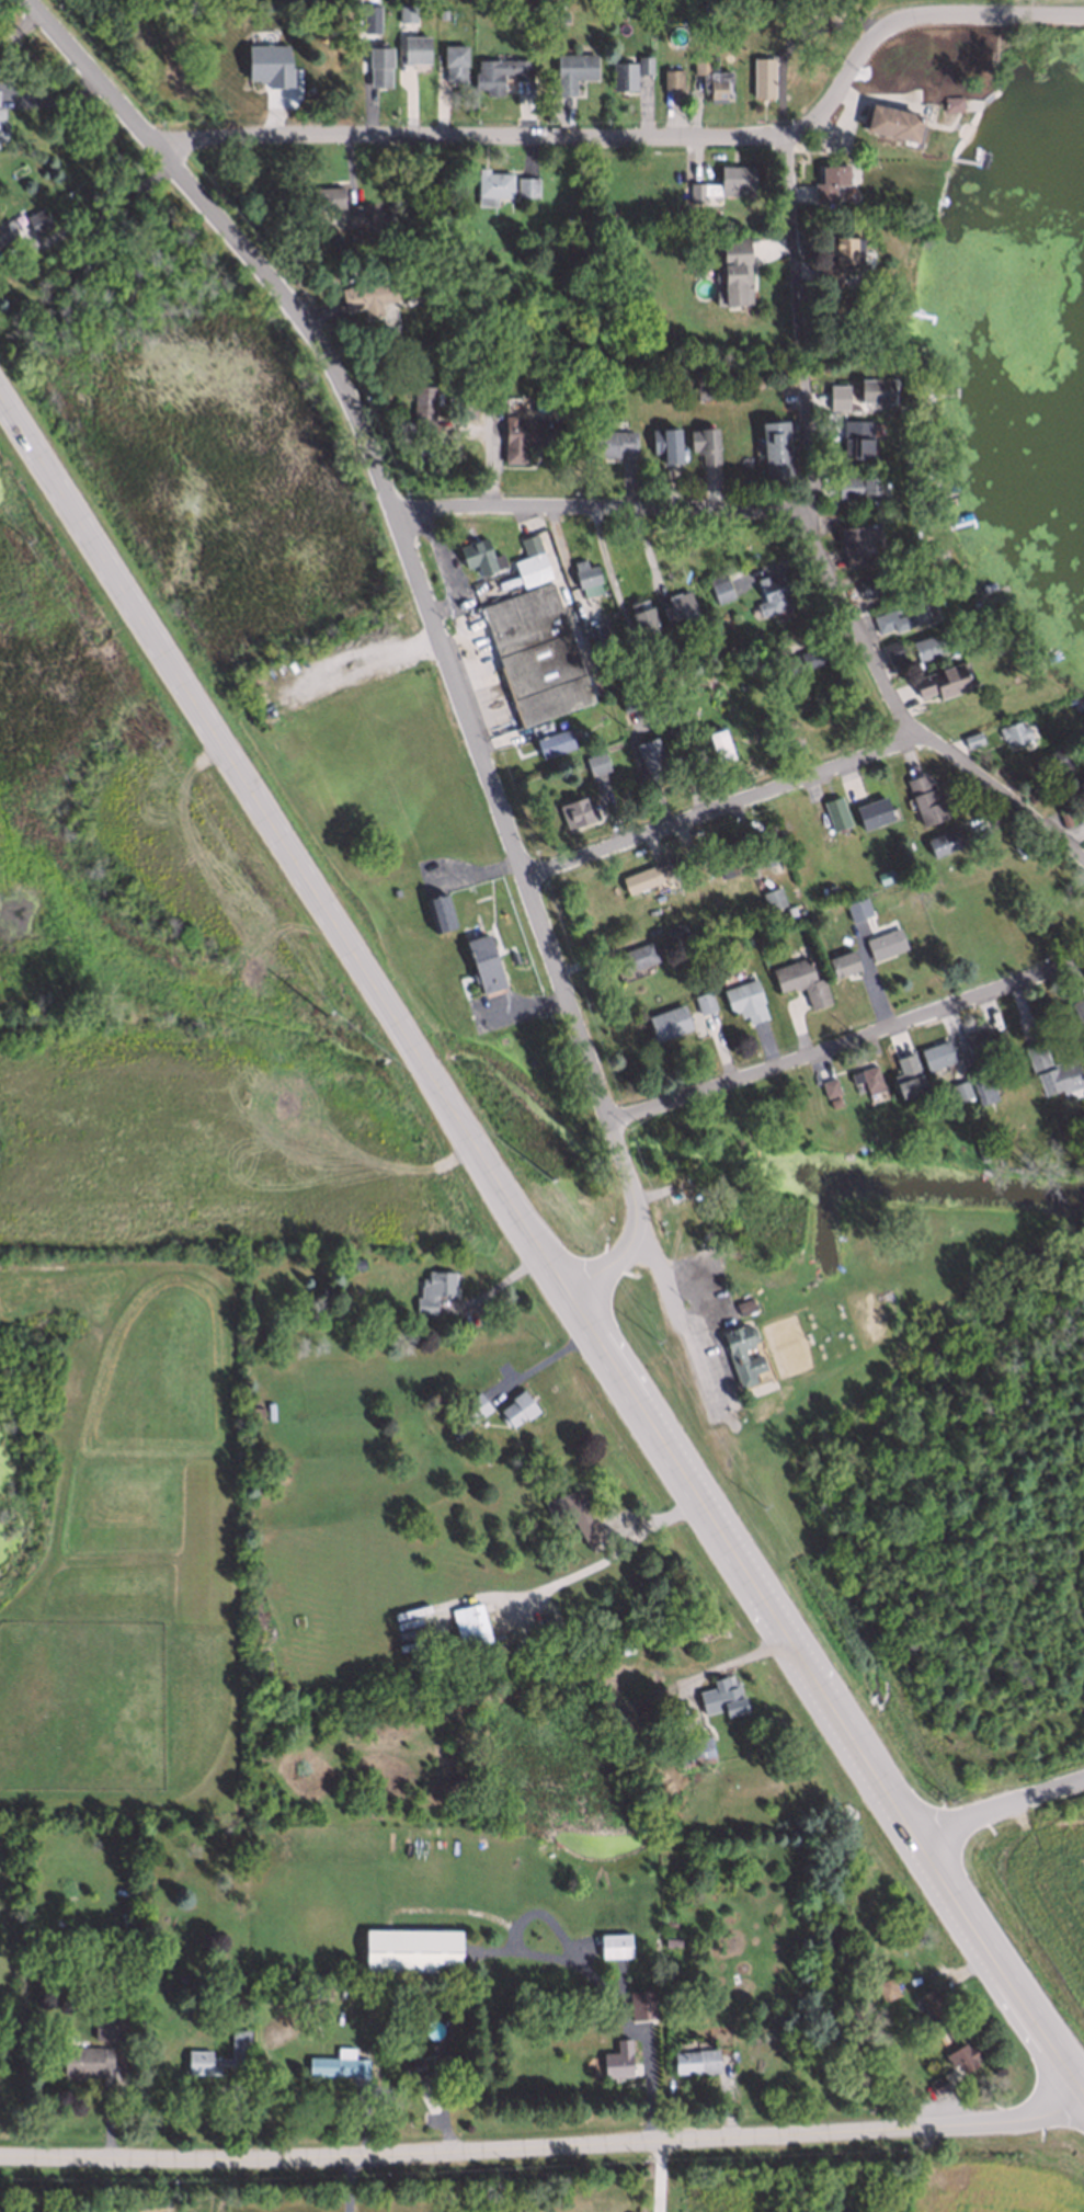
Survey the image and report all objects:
building: (563, 7)
building: (832, 8)
building: (407, 11)
building: (443, 11)
building: (808, 12)
building: (372, 20)
building: (414, 47)
building: (452, 61)
building: (642, 62)
building: (378, 64)
building: (271, 66)
building: (571, 69)
building: (498, 72)
building: (621, 73)
building: (760, 75)
building: (670, 77)
building: (710, 78)
building: (0, 90)
building: (951, 102)
building: (890, 121)
building: (2, 127)
road: (652, 137)
building: (828, 181)
building: (721, 182)
building: (490, 185)
building: (525, 185)
building: (324, 197)
road: (111, 202)
building: (389, 210)
building: (353, 213)
building: (37, 220)
building: (3, 229)
road: (795, 238)
building: (846, 248)
building: (831, 274)
building: (420, 276)
building: (730, 276)
building: (367, 296)
building: (875, 388)
building: (704, 391)
building: (836, 395)
building: (464, 409)
building: (422, 410)
building: (526, 435)
building: (667, 437)
building: (707, 438)
building: (855, 438)
building: (607, 441)
building: (774, 448)
building: (857, 486)
road: (603, 511)
building: (857, 539)
building: (477, 554)
building: (529, 561)
building: (583, 571)
building: (875, 583)
building: (720, 588)
building: (772, 593)
building: (680, 606)
building: (903, 613)
building: (639, 615)
building: (595, 629)
building: (726, 645)
building: (926, 645)
building: (890, 650)
building: (536, 653)
road: (447, 658)
building: (762, 658)
building: (803, 659)
road: (872, 663)
building: (649, 668)
building: (940, 680)
building: (739, 684)
building: (627, 698)
building: (663, 709)
building: (728, 709)
building: (1013, 731)
building: (970, 738)
building: (554, 741)
building: (718, 745)
building: (648, 756)
building: (1051, 759)
building: (685, 761)
building: (594, 762)
building: (1025, 787)
building: (1079, 788)
building: (924, 799)
road: (719, 808)
building: (575, 811)
building: (870, 811)
building: (834, 812)
building: (1063, 817)
building: (910, 830)
building: (943, 841)
building: (908, 844)
building: (766, 848)
building: (727, 860)
building: (692, 869)
building: (882, 875)
building: (644, 876)
building: (829, 891)
building: (775, 904)
building: (853, 910)
building: (437, 911)
building: (674, 928)
building: (744, 943)
building: (883, 943)
building: (636, 955)
building: (512, 956)
building: (841, 962)
building: (482, 964)
building: (799, 980)
building: (744, 1000)
building: (703, 1002)
power tower: (328, 1014)
building: (1079, 1015)
building: (667, 1021)
road: (851, 1037)
building: (983, 1044)
building: (936, 1053)
building: (1051, 1069)
building: (906, 1074)
building: (866, 1078)
building: (830, 1086)
building: (959, 1088)
building: (983, 1088)
building: (879, 1095)
building: (769, 1127)
building: (995, 1143)
building: (982, 1149)
power tower: (550, 1177)
road: (540, 1238)
building: (354, 1263)
building: (432, 1288)
building: (744, 1304)
building: (740, 1352)
road: (546, 1358)
building: (471, 1406)
building: (515, 1406)
building: (252, 1409)
building: (461, 1425)
power tower: (763, 1507)
building: (574, 1513)
road: (605, 1558)
building: (630, 1581)
building: (468, 1623)
building: (620, 1645)
road: (735, 1660)
building: (445, 1667)
building: (719, 1695)
building: (693, 1749)
road: (995, 1804)
building: (666, 1919)
building: (671, 1937)
building: (613, 1945)
building: (410, 1949)
building: (111, 1957)
building: (179, 1977)
building: (885, 1987)
building: (313, 1988)
building: (637, 2003)
building: (932, 2004)
building: (397, 2032)
building: (961, 2054)
building: (213, 2057)
building: (616, 2057)
building: (689, 2057)
building: (83, 2059)
building: (336, 2062)
building: (411, 2064)
building: (452, 2064)
building: (936, 2083)
building: (431, 2099)
road: (541, 2150)
road: (664, 2177)

